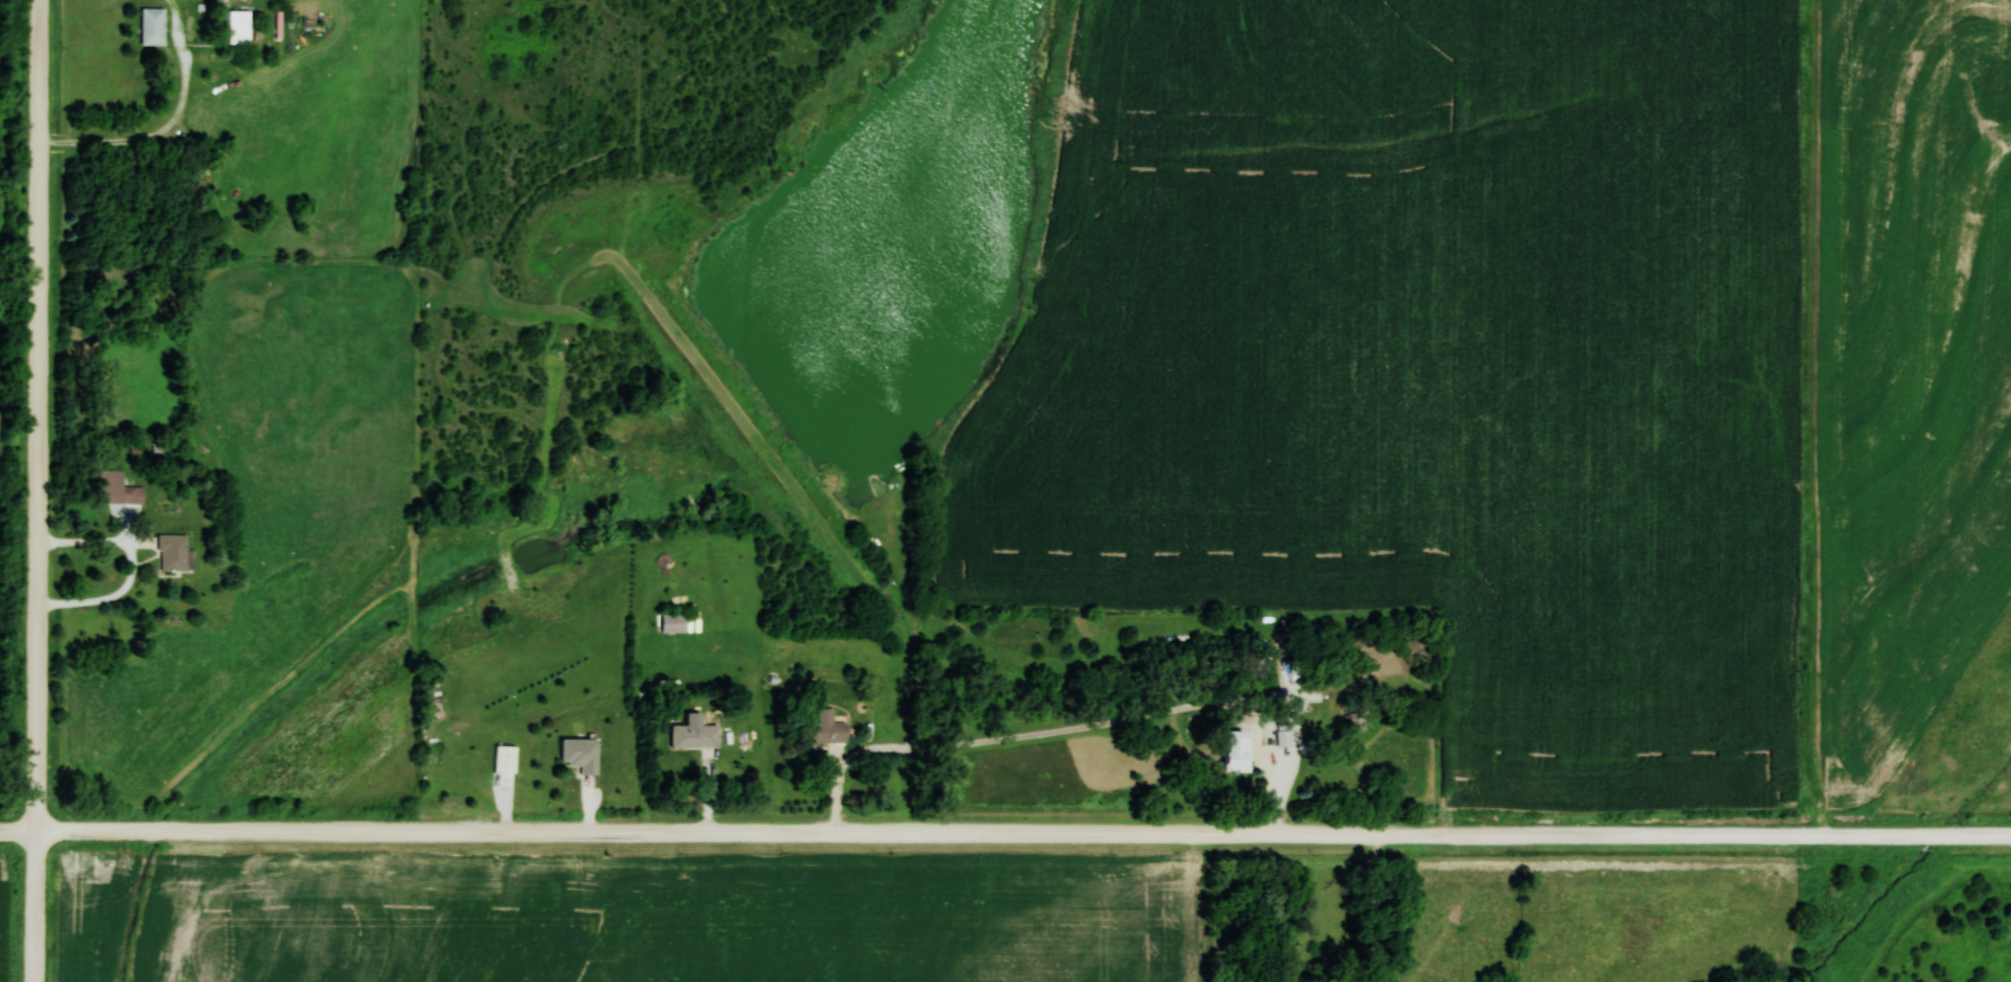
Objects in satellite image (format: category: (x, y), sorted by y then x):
building: (154, 26)
building: (241, 26)
building: (120, 488)
road: (38, 491)
building: (177, 553)
building: (673, 622)
building: (827, 727)
building: (695, 736)
building: (1284, 738)
building: (1239, 751)
building: (581, 754)
building: (506, 758)
road: (1005, 832)
building: (1440, 978)

